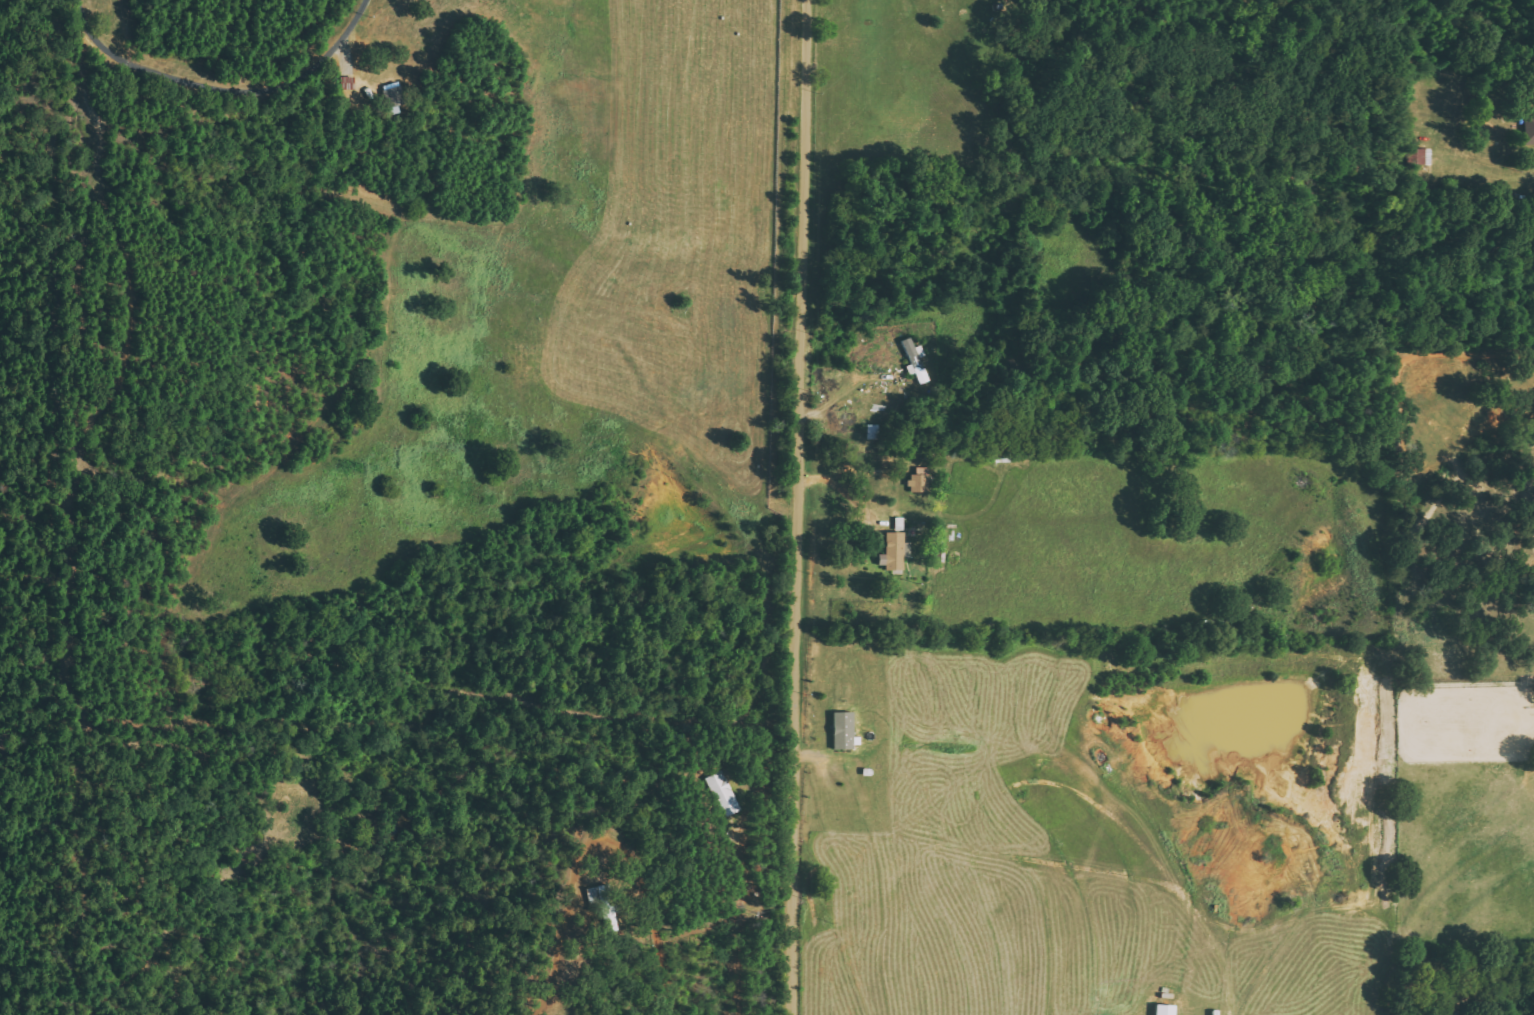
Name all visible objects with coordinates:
building: (395, 96)
building: (1530, 129)
building: (916, 360)
building: (874, 432)
building: (921, 481)
road: (799, 507)
building: (896, 553)
building: (845, 731)
building: (724, 793)
road: (600, 836)
building: (605, 905)
building: (1167, 1009)

